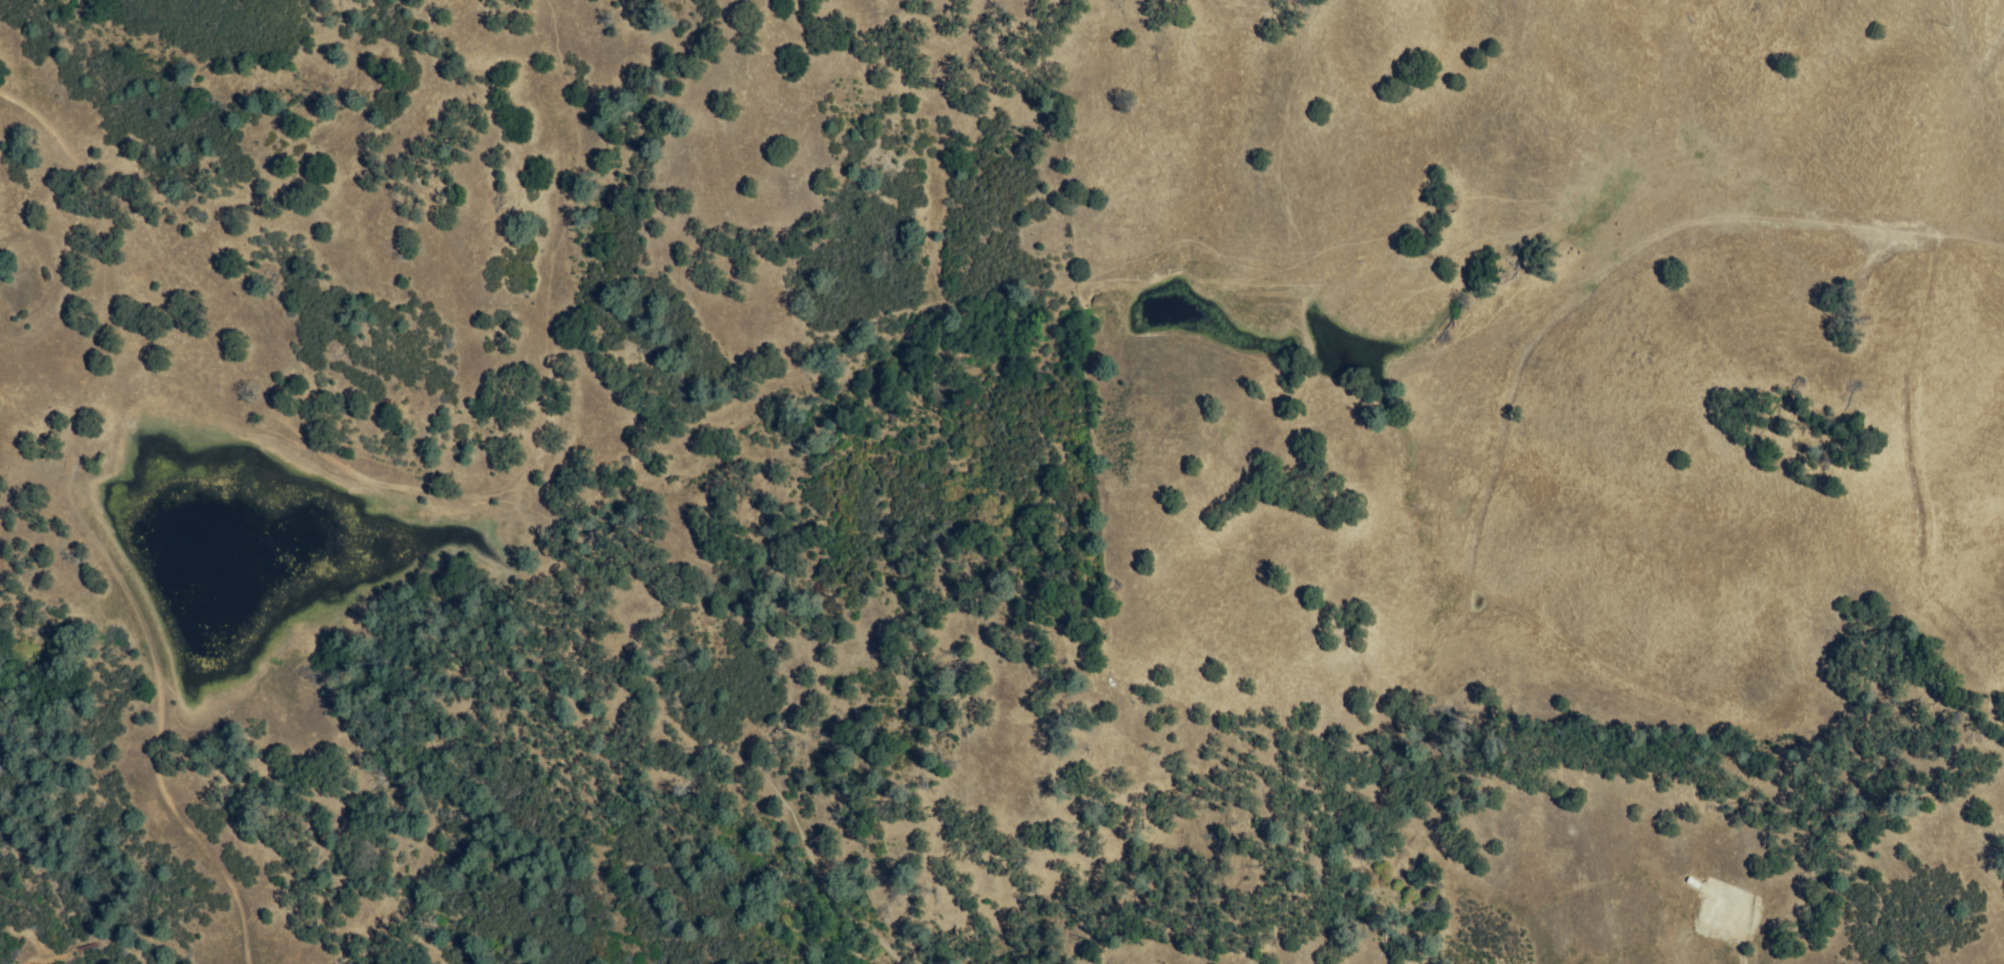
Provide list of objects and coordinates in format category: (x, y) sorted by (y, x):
building: (1080, 324)
road: (449, 505)
road: (116, 611)
road: (180, 836)

